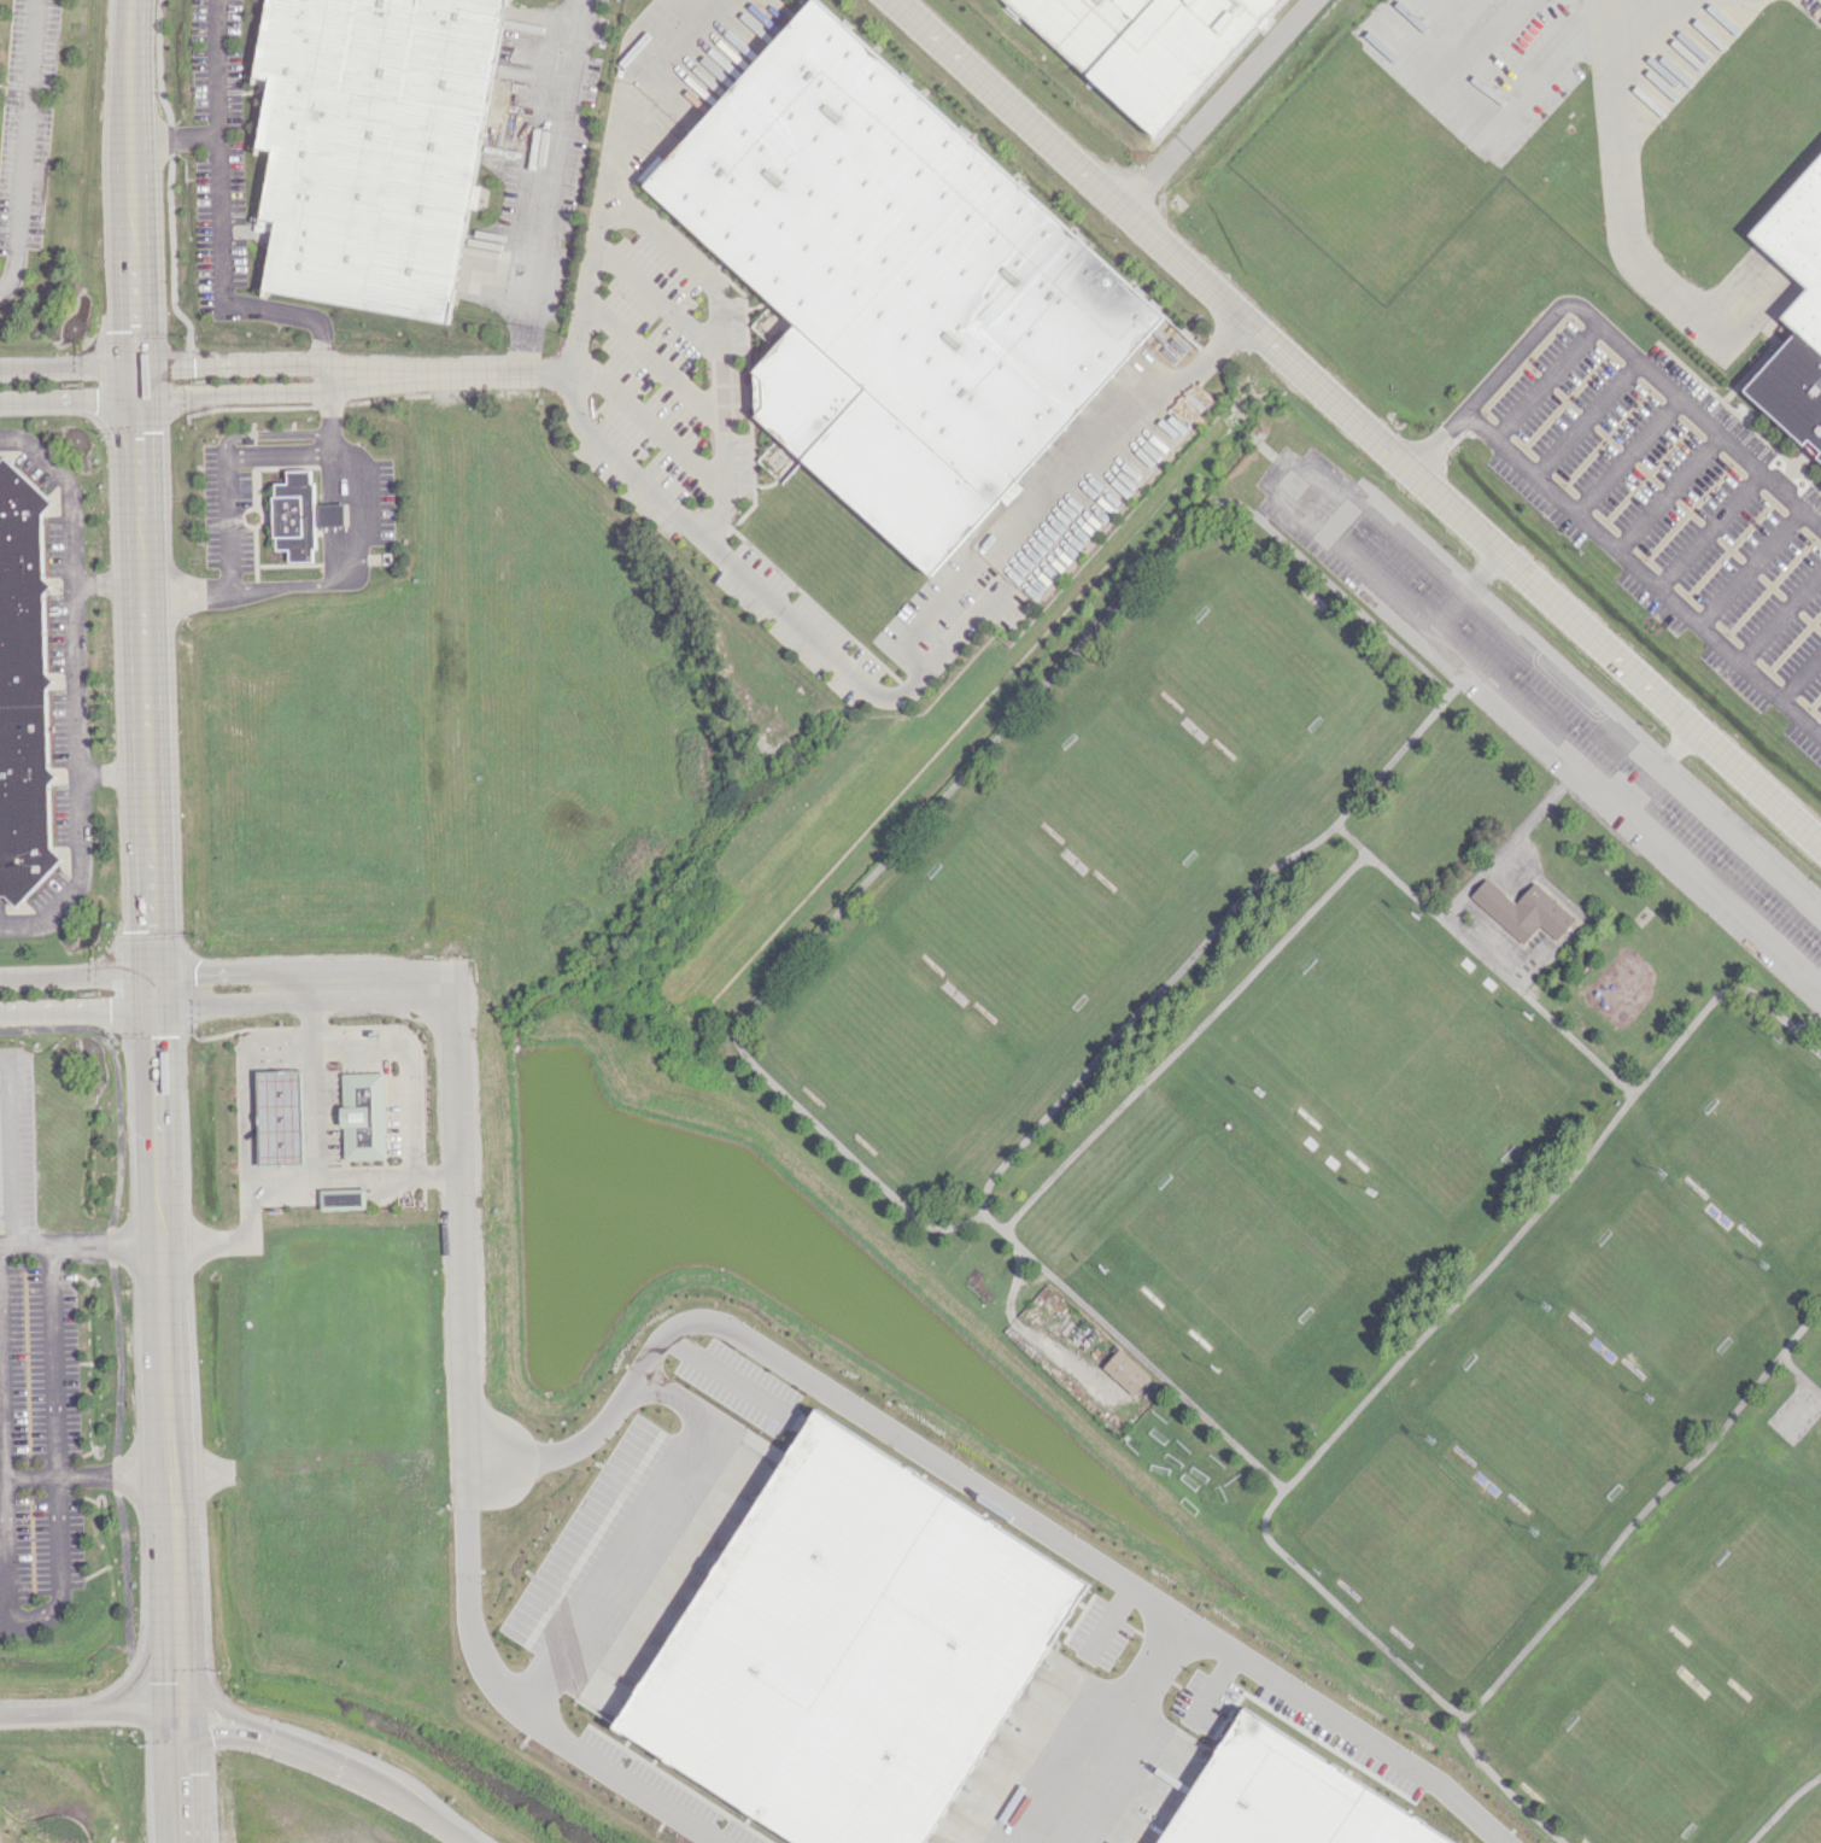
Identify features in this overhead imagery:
building: (1147, 46)
road: (1218, 104)
road: (175, 135)
road: (17, 145)
building: (373, 147)
road: (218, 148)
road: (165, 183)
road: (551, 186)
building: (897, 285)
building: (1796, 311)
road: (1610, 334)
road: (321, 339)
road: (730, 343)
road: (236, 363)
road: (71, 367)
traffic signals: (142, 367)
road: (451, 374)
road: (1544, 380)
road: (142, 385)
road: (239, 393)
road: (71, 398)
road: (1585, 417)
road: (1357, 421)
road: (652, 426)
road: (269, 433)
road: (1627, 455)
road: (226, 469)
road: (65, 487)
building: (1011, 492)
road: (1283, 493)
road: (1668, 493)
building: (300, 515)
road: (1708, 530)
road: (1747, 567)
road: (336, 573)
road: (1641, 575)
road: (1463, 587)
road: (759, 590)
road: (189, 593)
road: (1779, 615)
road: (71, 638)
park: (1249, 661)
road: (1799, 678)
building: (23, 689)
parking lot: (1551, 714)
road: (1820, 735)
road: (1657, 765)
park: (1134, 794)
road: (77, 838)
road: (156, 871)
building: (1526, 912)
park: (1009, 929)
road: (224, 970)
traffic signals: (158, 971)
road: (78, 973)
road: (367, 983)
road: (158, 989)
road: (229, 1006)
traffic signals: (159, 1008)
road: (80, 1010)
park: (1398, 1042)
road: (326, 1045)
park: (891, 1063)
road: (449, 1080)
road: (315, 1081)
building: (361, 1114)
building: (274, 1117)
gas station: (324, 1119)
road: (14, 1145)
park: (1759, 1151)
road: (280, 1178)
building: (339, 1197)
park: (1230, 1227)
road: (164, 1240)
road: (82, 1244)
park: (1661, 1287)
road: (459, 1327)
road: (781, 1353)
building: (1125, 1371)
road: (54, 1415)
park: (1542, 1420)
road: (4, 1497)
road: (172, 1531)
park: (1425, 1554)
road: (59, 1569)
park: (1756, 1607)
road: (175, 1619)
building: (850, 1648)
road: (144, 1661)
road: (177, 1693)
road: (210, 1695)
road: (43, 1712)
road: (135, 1718)
road: (216, 1731)
traffic signals: (178, 1739)
park: (1632, 1756)
road: (338, 1766)
road: (180, 1791)
building: (1284, 1798)
road: (443, 1825)

